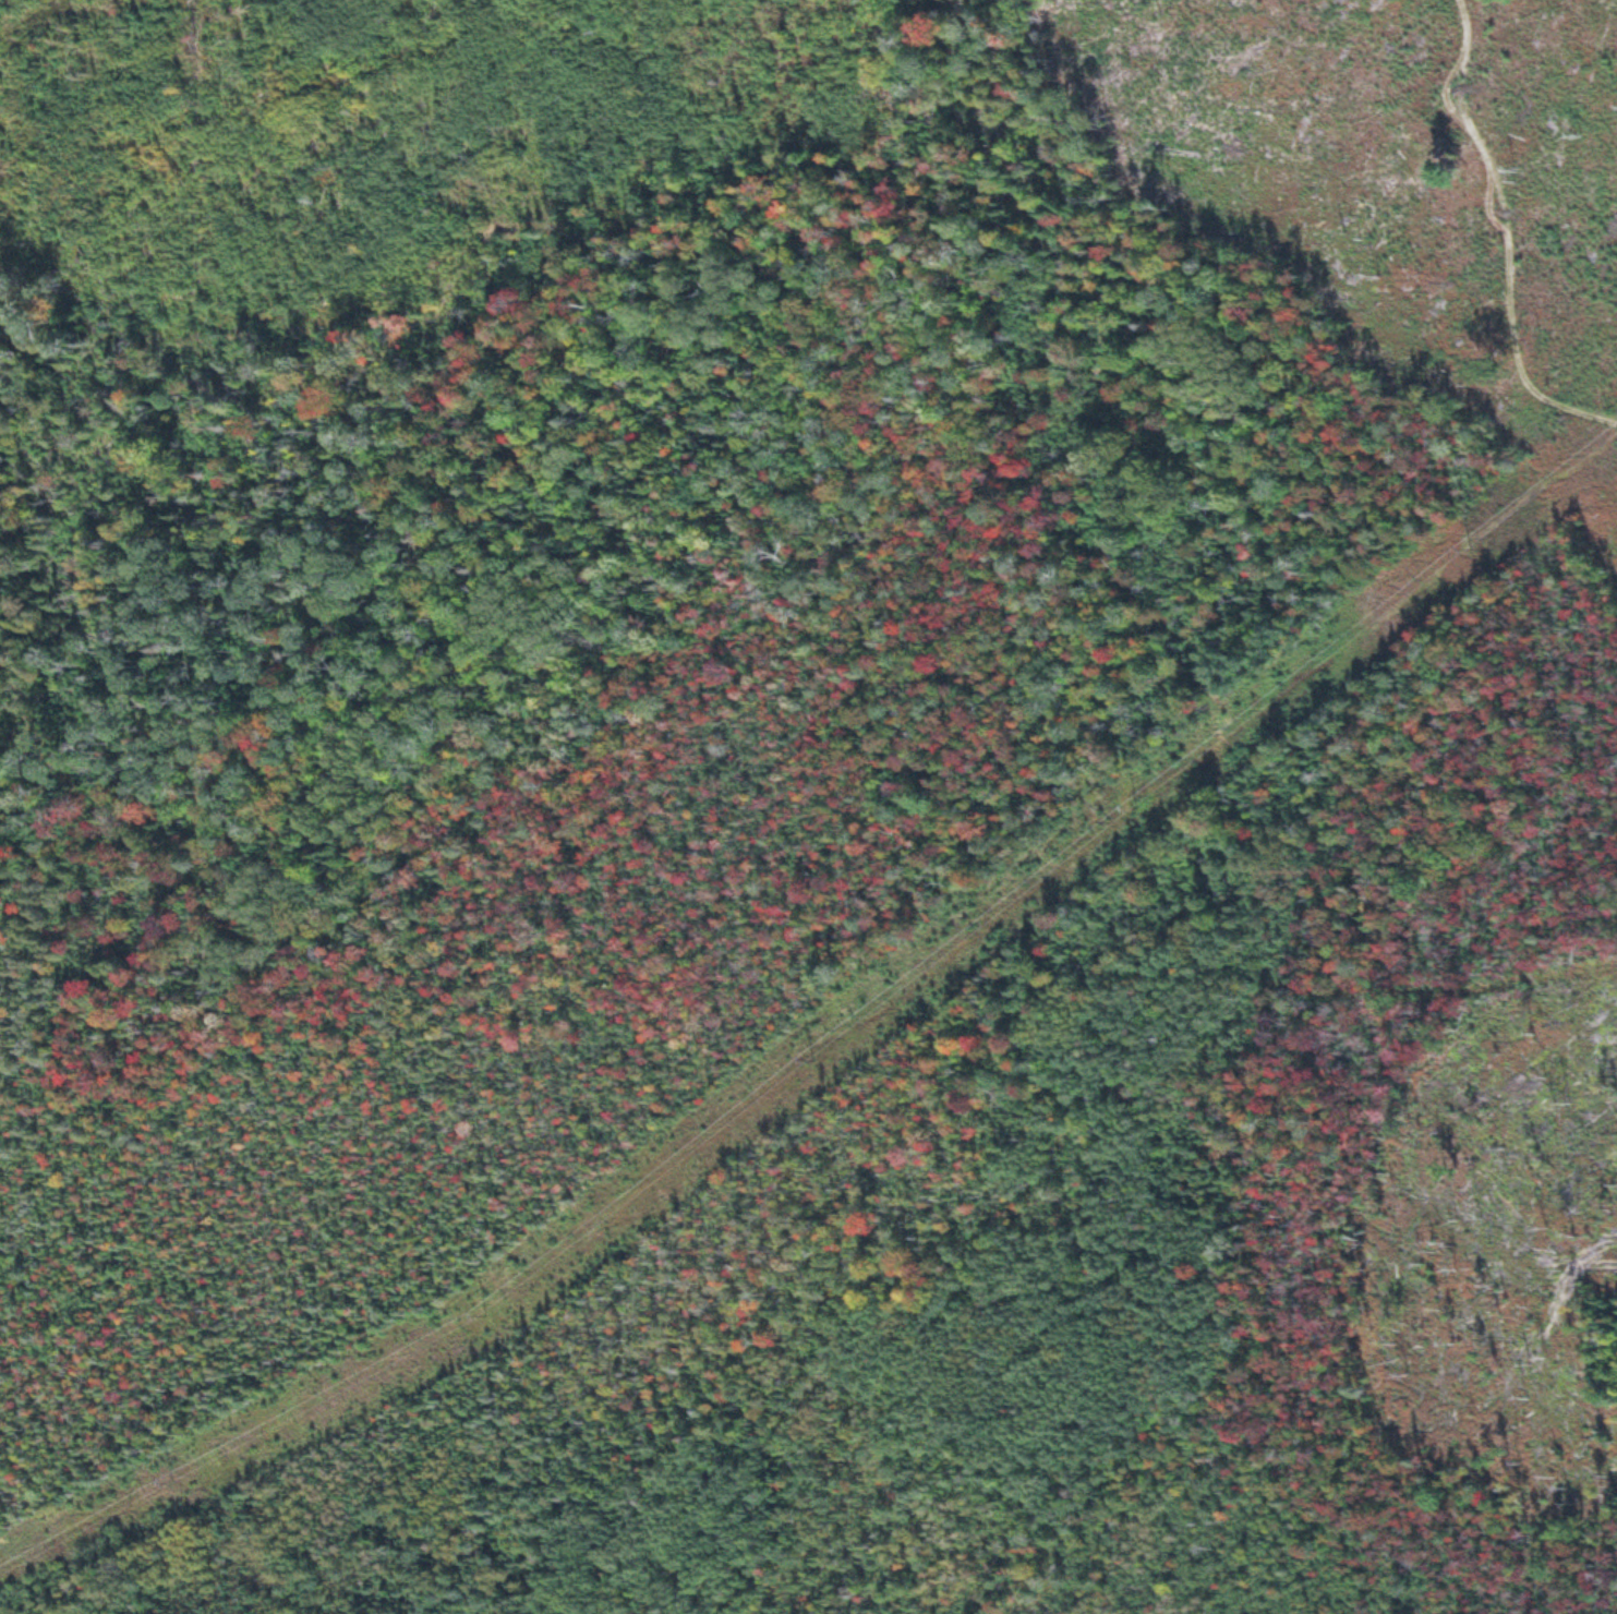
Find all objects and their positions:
road: (1504, 234)

